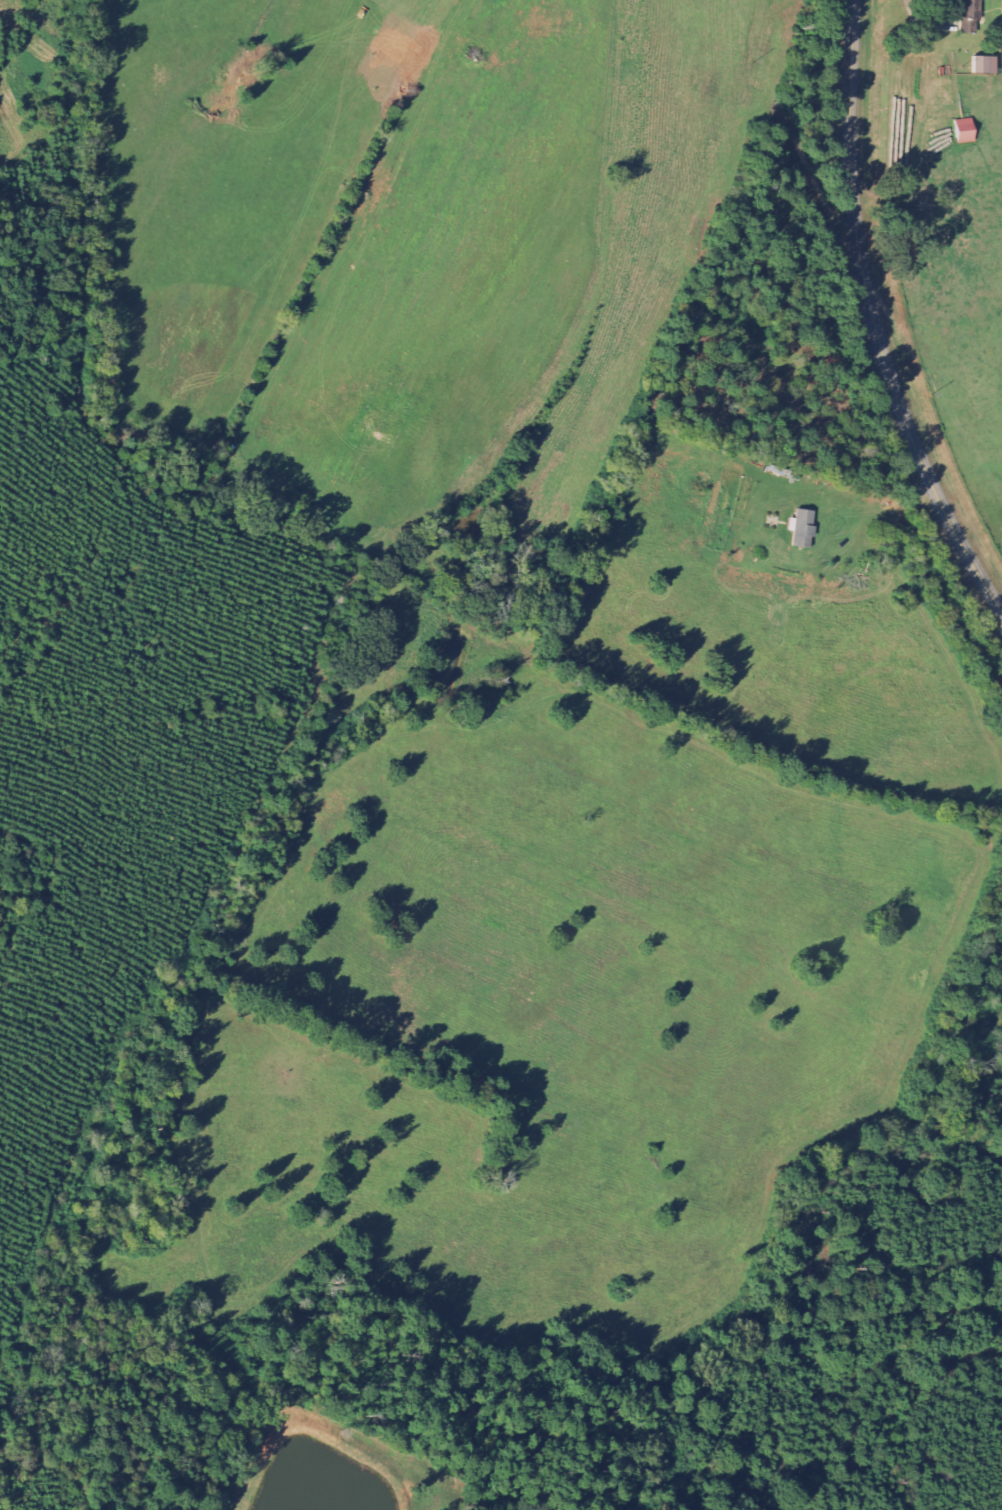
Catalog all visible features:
building: (974, 15)
building: (988, 64)
building: (969, 130)
road: (875, 317)
building: (806, 528)

